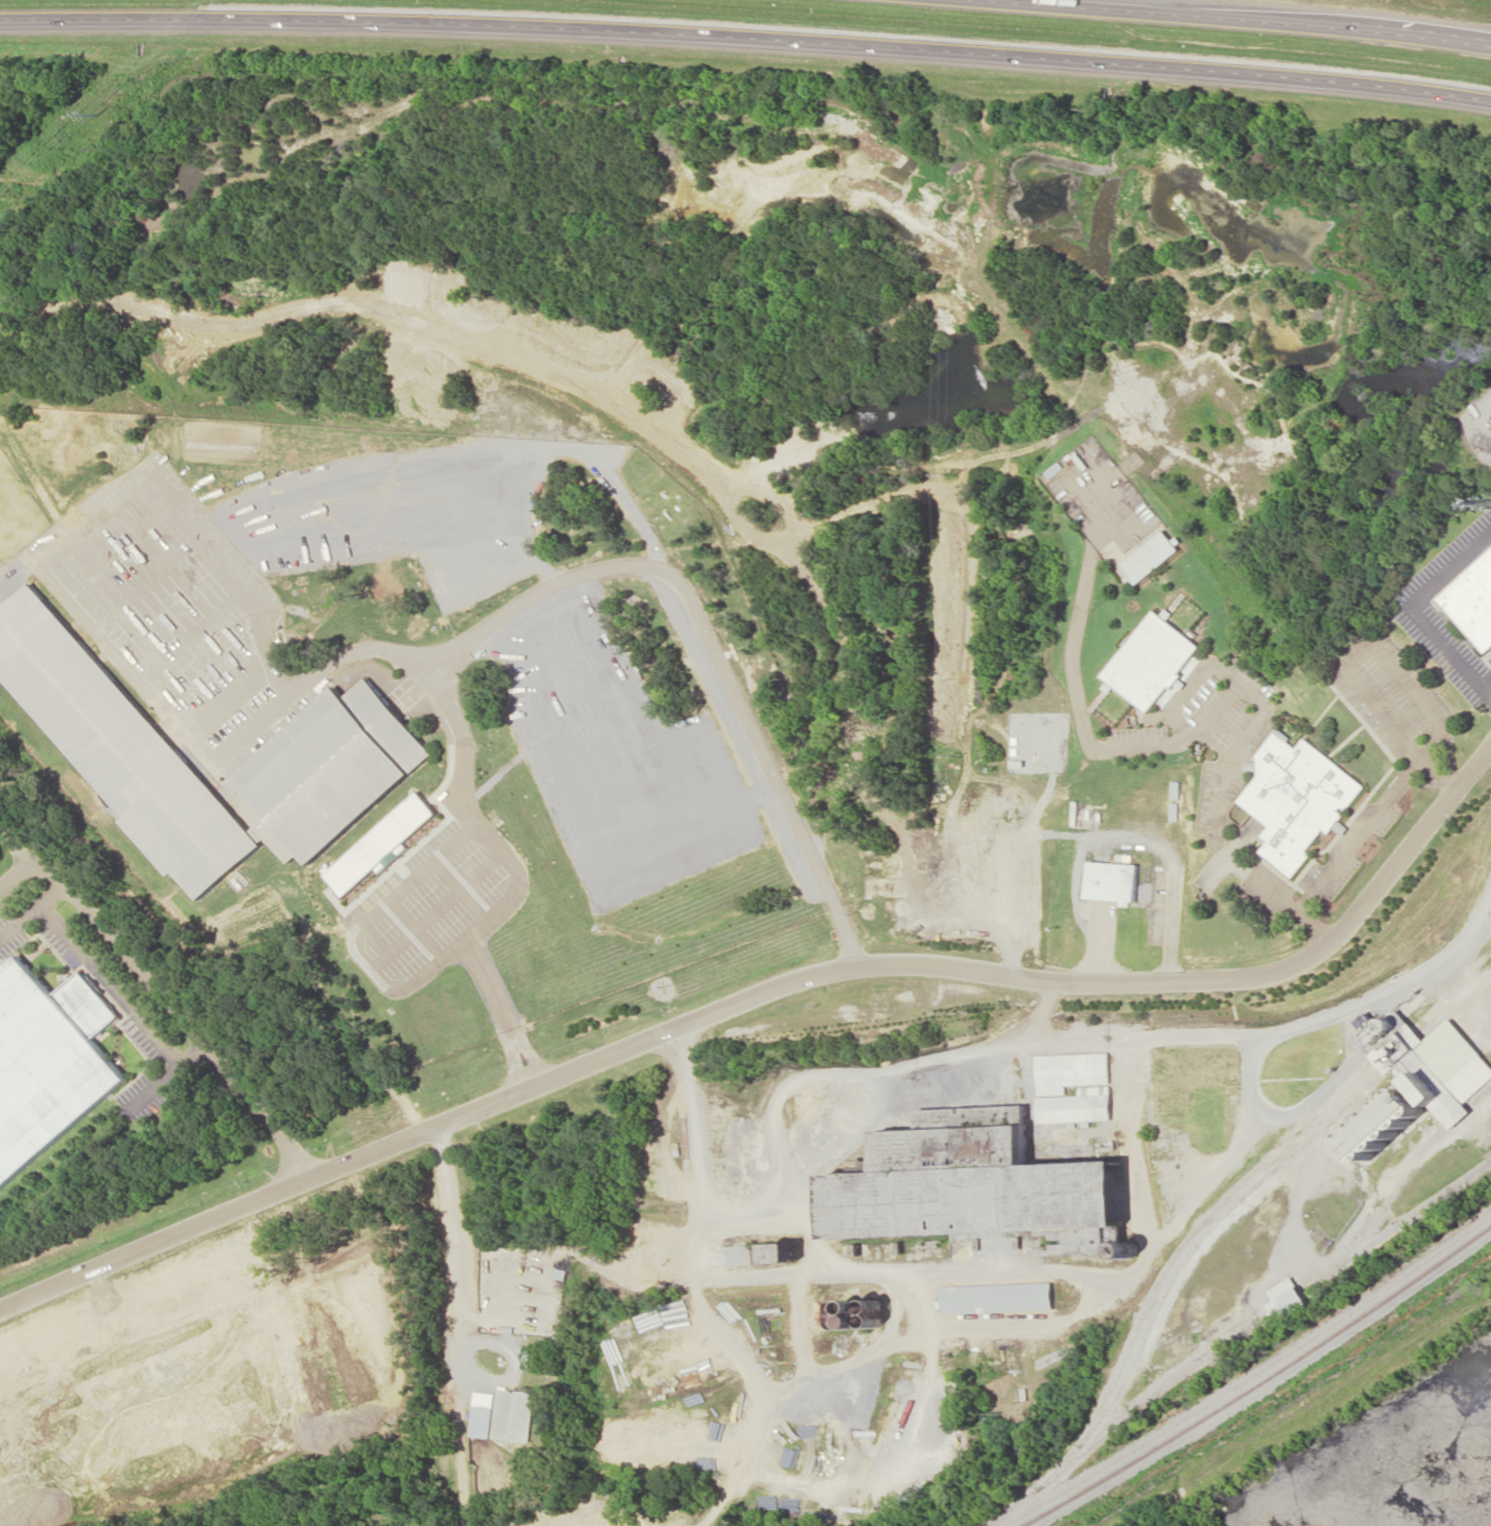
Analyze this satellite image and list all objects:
road: (1245, 16)
road: (746, 36)
power tower: (99, 113)
parking lot: (523, 473)
road: (1104, 537)
building: (1151, 556)
road: (1088, 572)
building: (1472, 600)
parking lot: (172, 610)
road: (1078, 623)
road: (716, 637)
building: (1152, 661)
road: (433, 682)
road: (1241, 683)
road: (1486, 688)
road: (1190, 689)
parking lot: (1387, 691)
road: (1079, 695)
road: (1221, 706)
building: (351, 724)
road: (1247, 735)
road: (1144, 743)
parking lot: (574, 773)
road: (1439, 774)
building: (1298, 797)
road: (1221, 802)
road: (1359, 834)
building: (382, 842)
road: (1411, 848)
building: (1112, 880)
road: (1272, 890)
parking lot: (437, 903)
road: (31, 908)
road: (1102, 947)
road: (808, 979)
road: (107, 983)
road: (504, 1013)
road: (180, 1019)
building: (48, 1061)
building: (1430, 1062)
road: (164, 1074)
building: (1094, 1090)
building: (1385, 1123)
railway: (1262, 1164)
railway: (1403, 1176)
building: (975, 1188)
railway: (1244, 1193)
road: (157, 1243)
building: (997, 1296)
building: (1287, 1297)
railway: (1233, 1335)
railway: (1251, 1377)
railway: (1260, 1382)
building: (485, 1413)
building: (516, 1414)

